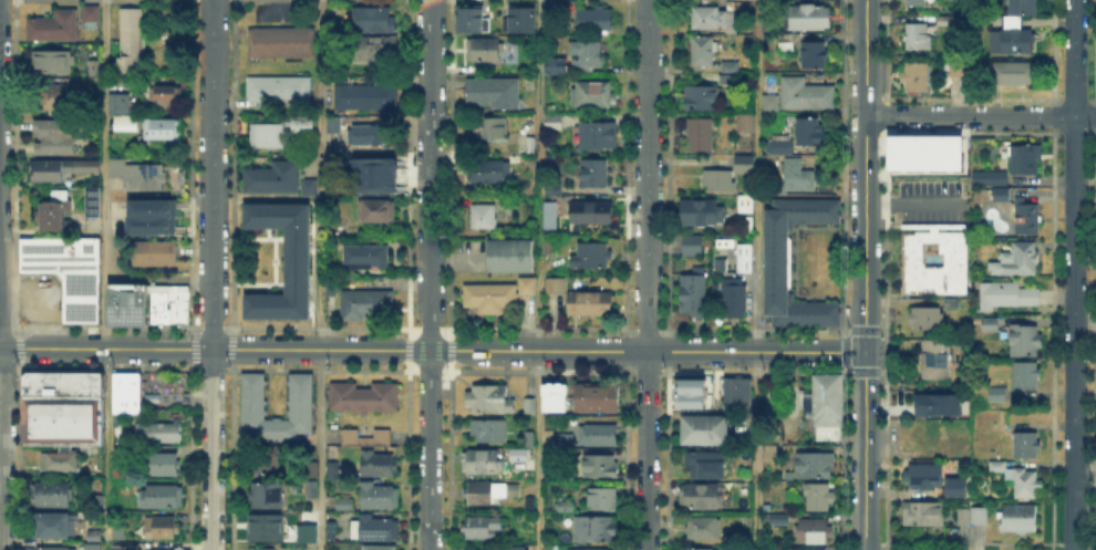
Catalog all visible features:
building: (916, 3)
building: (1023, 8)
building: (92, 15)
building: (810, 17)
building: (469, 18)
building: (712, 18)
building: (373, 19)
building: (524, 21)
building: (947, 21)
building: (596, 22)
building: (53, 27)
building: (918, 37)
building: (132, 41)
building: (1013, 41)
building: (786, 42)
building: (282, 43)
building: (378, 49)
building: (484, 52)
building: (703, 52)
building: (587, 54)
building: (815, 56)
building: (54, 64)
building: (94, 69)
building: (552, 70)
building: (727, 72)
building: (1015, 74)
building: (917, 77)
building: (530, 82)
building: (279, 90)
building: (802, 92)
building: (165, 93)
building: (496, 93)
building: (592, 94)
building: (368, 96)
building: (702, 97)
building: (54, 98)
building: (766, 100)
building: (116, 102)
road: (980, 116)
building: (746, 120)
building: (123, 121)
building: (298, 122)
building: (554, 122)
building: (334, 125)
building: (306, 127)
building: (495, 127)
building: (164, 131)
building: (810, 133)
building: (366, 135)
building: (701, 135)
building: (268, 136)
building: (599, 137)
building: (56, 138)
building: (779, 144)
building: (926, 156)
building: (1020, 157)
building: (745, 164)
building: (83, 167)
building: (495, 168)
building: (49, 172)
building: (372, 174)
building: (594, 174)
road: (319, 175)
road: (865, 175)
building: (141, 176)
building: (799, 177)
building: (276, 178)
building: (991, 178)
building: (718, 179)
building: (1002, 197)
building: (508, 200)
building: (93, 204)
building: (747, 204)
road: (913, 204)
building: (378, 212)
building: (701, 212)
building: (53, 214)
building: (547, 214)
building: (592, 215)
building: (148, 216)
building: (482, 216)
building: (1025, 217)
building: (693, 245)
building: (548, 246)
building: (362, 253)
building: (155, 255)
building: (510, 255)
building: (591, 257)
building: (293, 259)
building: (1020, 260)
building: (745, 261)
building: (777, 263)
building: (721, 264)
building: (934, 264)
building: (64, 269)
road: (102, 274)
road: (211, 274)
road: (428, 274)
road: (537, 274)
road: (647, 274)
road: (756, 274)
road: (1074, 274)
building: (328, 288)
building: (556, 288)
building: (693, 295)
building: (1006, 295)
building: (496, 298)
building: (735, 299)
building: (176, 302)
building: (121, 303)
building: (142, 303)
building: (157, 303)
building: (350, 303)
building: (378, 303)
building: (951, 303)
building: (591, 305)
road: (38, 313)
building: (927, 320)
building: (990, 330)
building: (1026, 342)
road: (105, 349)
road: (266, 349)
road: (592, 351)
traffic signals: (865, 352)
building: (939, 359)
building: (1027, 375)
building: (50, 382)
building: (64, 382)
building: (80, 382)
building: (94, 382)
building: (335, 392)
building: (385, 392)
building: (690, 392)
building: (123, 393)
building: (298, 393)
building: (738, 393)
building: (551, 396)
building: (999, 396)
building: (352, 397)
building: (369, 397)
building: (489, 398)
building: (599, 398)
building: (934, 403)
road: (0, 404)
building: (530, 407)
building: (826, 408)
building: (63, 413)
building: (29, 418)
building: (156, 429)
building: (492, 429)
building: (705, 429)
building: (362, 435)
building: (530, 437)
building: (599, 437)
building: (1026, 447)
road: (320, 449)
road: (865, 450)
building: (518, 455)
building: (55, 458)
building: (266, 463)
building: (483, 463)
building: (164, 465)
building: (600, 465)
building: (706, 466)
building: (380, 467)
building: (120, 469)
building: (922, 474)
building: (566, 476)
building: (309, 477)
building: (817, 480)
building: (1021, 480)
building: (953, 486)
building: (488, 492)
building: (696, 494)
building: (52, 495)
building: (267, 496)
building: (380, 497)
building: (163, 498)
building: (603, 498)
building: (794, 499)
building: (99, 504)
building: (345, 506)
building: (530, 506)
building: (566, 507)
building: (923, 515)
building: (964, 515)
building: (980, 516)
building: (1019, 519)
building: (778, 523)
building: (703, 526)
building: (55, 527)
building: (162, 528)
building: (266, 528)
building: (378, 528)
building: (479, 528)
building: (598, 530)
building: (815, 531)
building: (120, 532)
building: (91, 533)
building: (312, 537)
building: (332, 537)
building: (89, 546)
building: (52, 548)
building: (130, 548)
building: (381, 548)
building: (588, 548)
building: (695, 548)
building: (793, 548)
building: (164, 549)
building: (266, 549)
building: (476, 549)
building: (520, 549)

